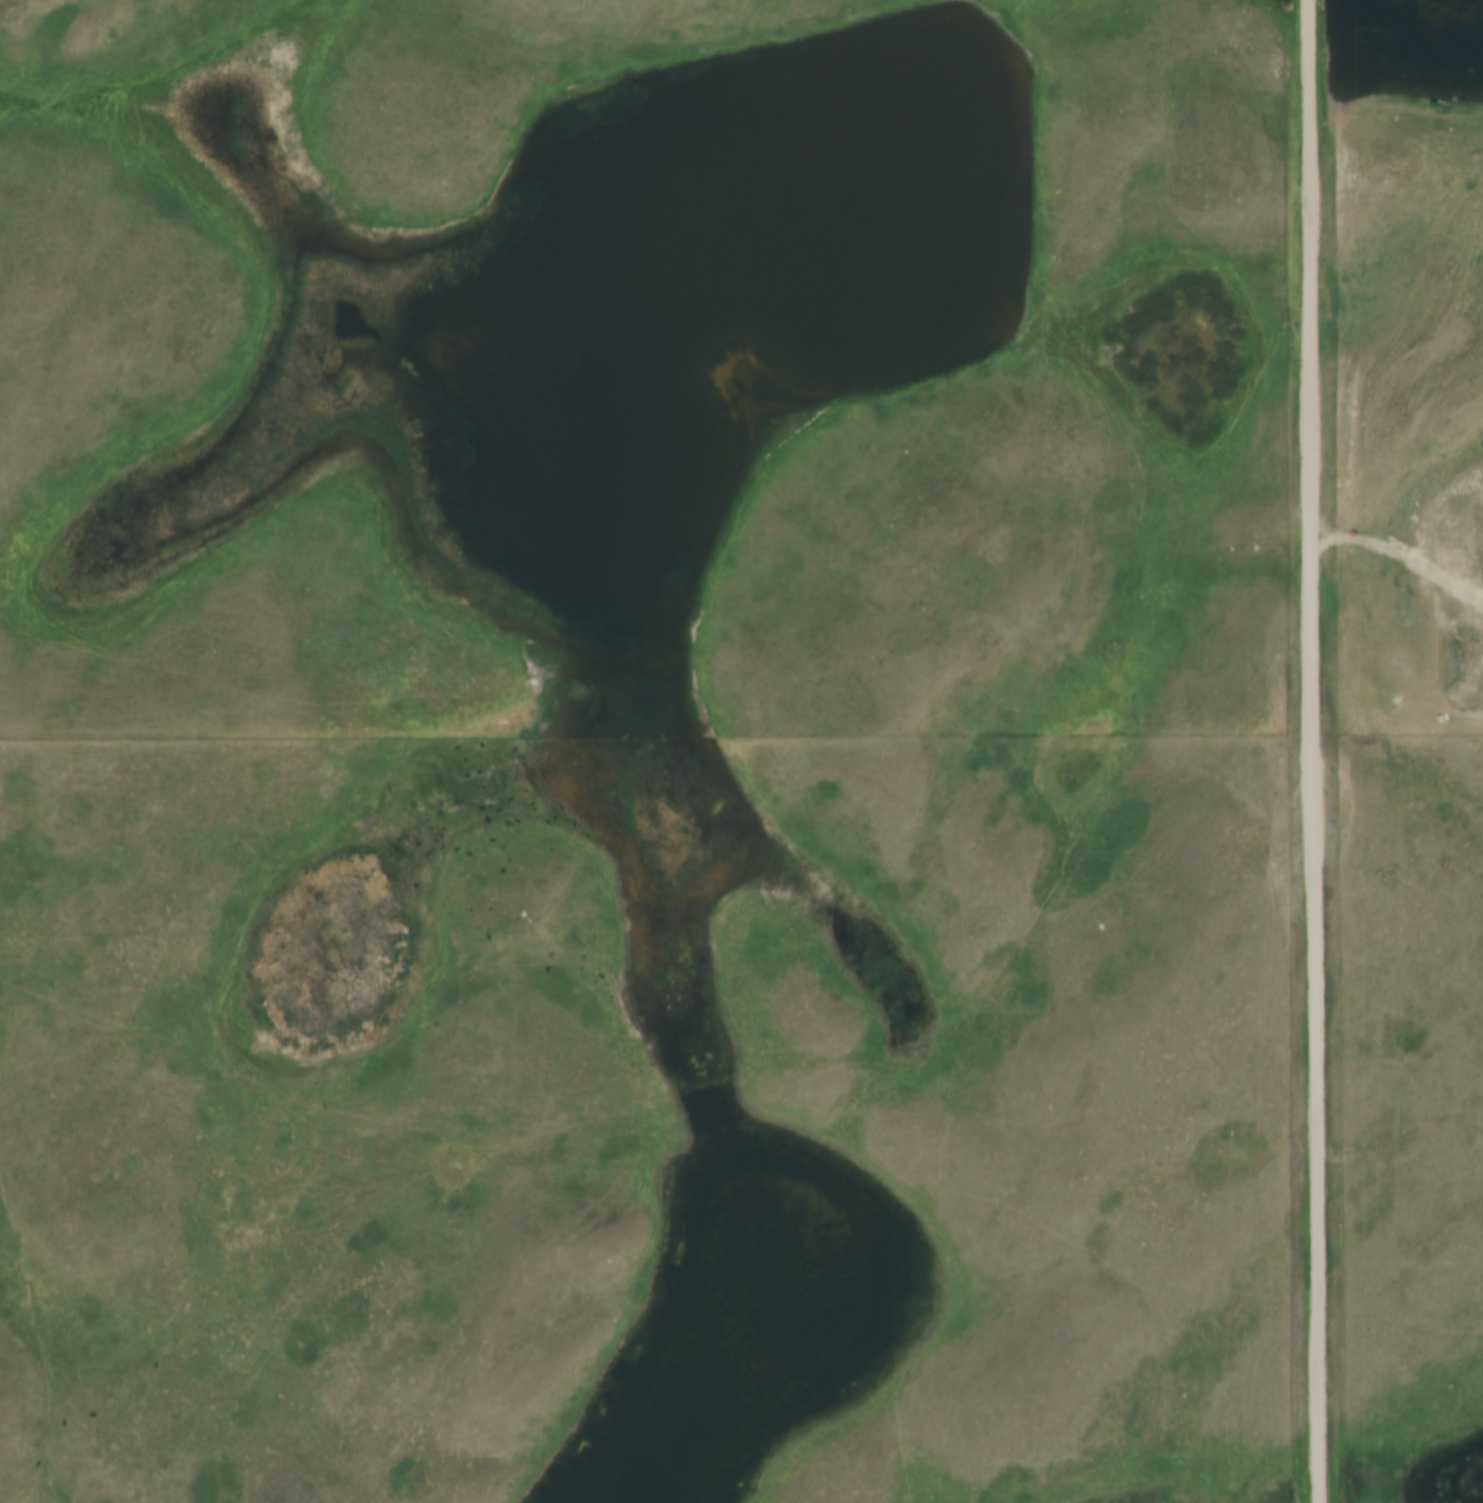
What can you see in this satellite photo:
road: (1412, 539)
quarry: (1451, 582)
road: (1313, 751)

